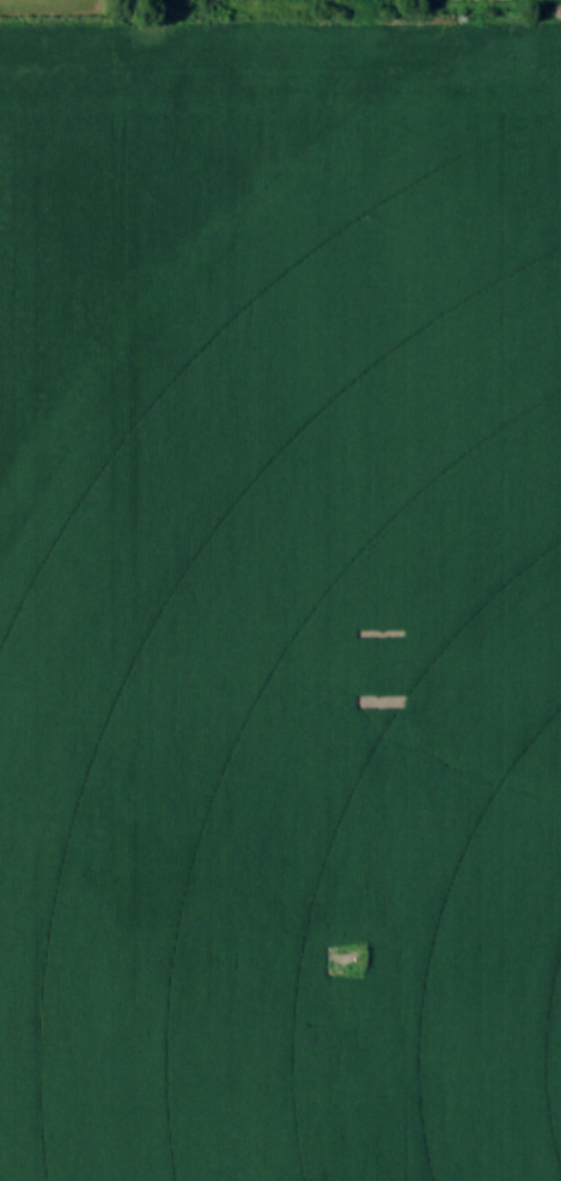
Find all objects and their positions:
park: (74, 8)

